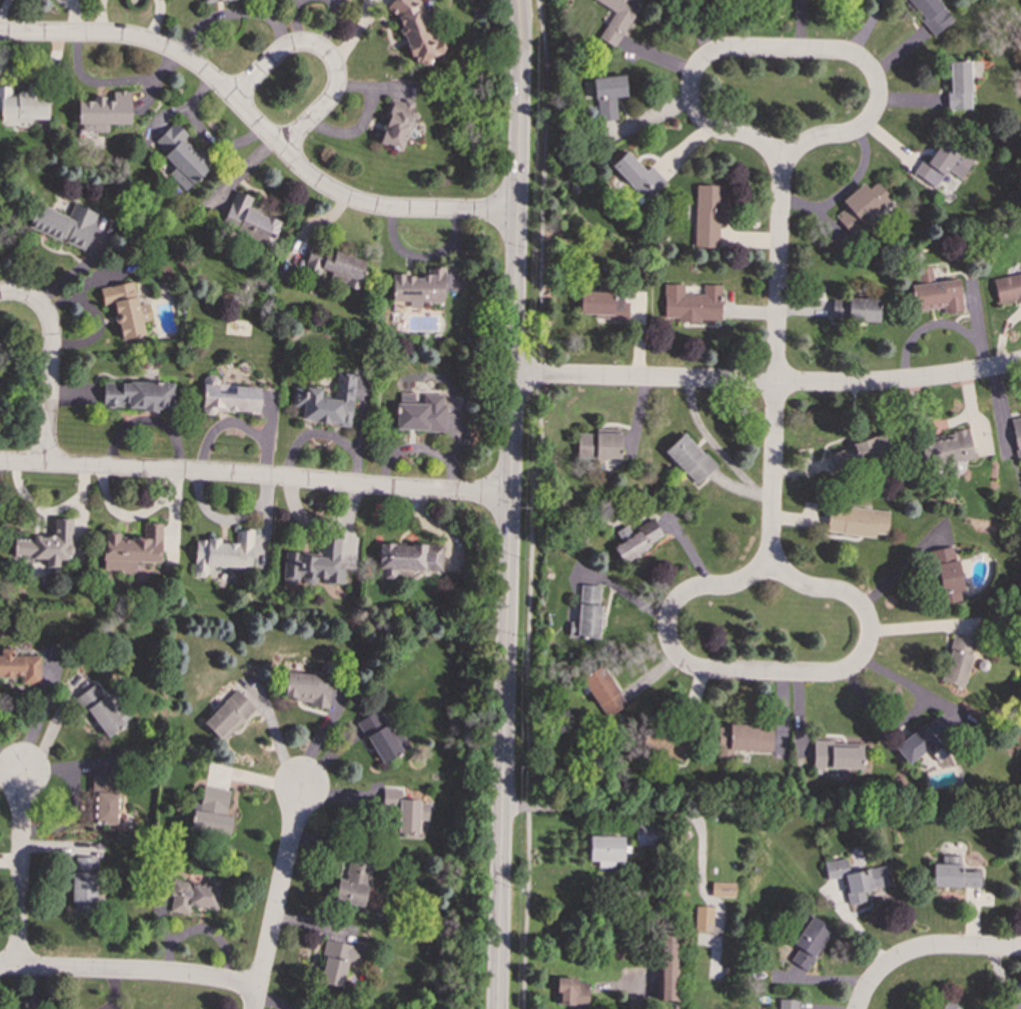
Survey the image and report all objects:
building: (205, 0)
road: (517, 7)
road: (518, 7)
road: (232, 12)
building: (930, 13)
building: (617, 18)
building: (414, 30)
road: (754, 50)
road: (325, 54)
building: (958, 85)
building: (607, 95)
building: (22, 106)
building: (103, 112)
road: (258, 124)
building: (395, 124)
building: (181, 156)
building: (943, 162)
building: (637, 175)
building: (862, 207)
building: (707, 215)
building: (248, 218)
building: (64, 224)
building: (334, 264)
road: (778, 271)
building: (418, 287)
building: (1007, 288)
building: (934, 292)
building: (691, 303)
building: (603, 305)
building: (125, 309)
building: (854, 309)
road: (50, 363)
road: (767, 383)
building: (137, 395)
building: (229, 398)
building: (326, 401)
building: (422, 414)
building: (1016, 434)
building: (598, 446)
building: (944, 448)
building: (852, 455)
building: (688, 458)
road: (772, 474)
road: (254, 477)
road: (534, 504)
road: (509, 511)
building: (855, 521)
building: (635, 539)
building: (47, 544)
building: (131, 548)
building: (222, 553)
building: (407, 558)
building: (314, 564)
building: (945, 574)
building: (587, 613)
building: (957, 660)
building: (20, 666)
road: (748, 672)
building: (307, 688)
building: (602, 691)
building: (99, 710)
building: (228, 715)
building: (381, 737)
building: (741, 739)
building: (663, 742)
building: (834, 755)
road: (11, 760)
building: (104, 799)
building: (405, 810)
road: (680, 810)
building: (211, 811)
building: (647, 835)
building: (605, 848)
road: (19, 869)
building: (952, 874)
building: (855, 879)
building: (352, 882)
building: (84, 884)
building: (722, 889)
building: (193, 895)
road: (278, 896)
building: (703, 918)
building: (808, 941)
road: (924, 949)
building: (336, 962)
building: (668, 965)
road: (128, 972)
road: (49, 990)
road: (113, 990)
building: (571, 992)
building: (785, 1004)
building: (948, 1005)
building: (1012, 1005)

